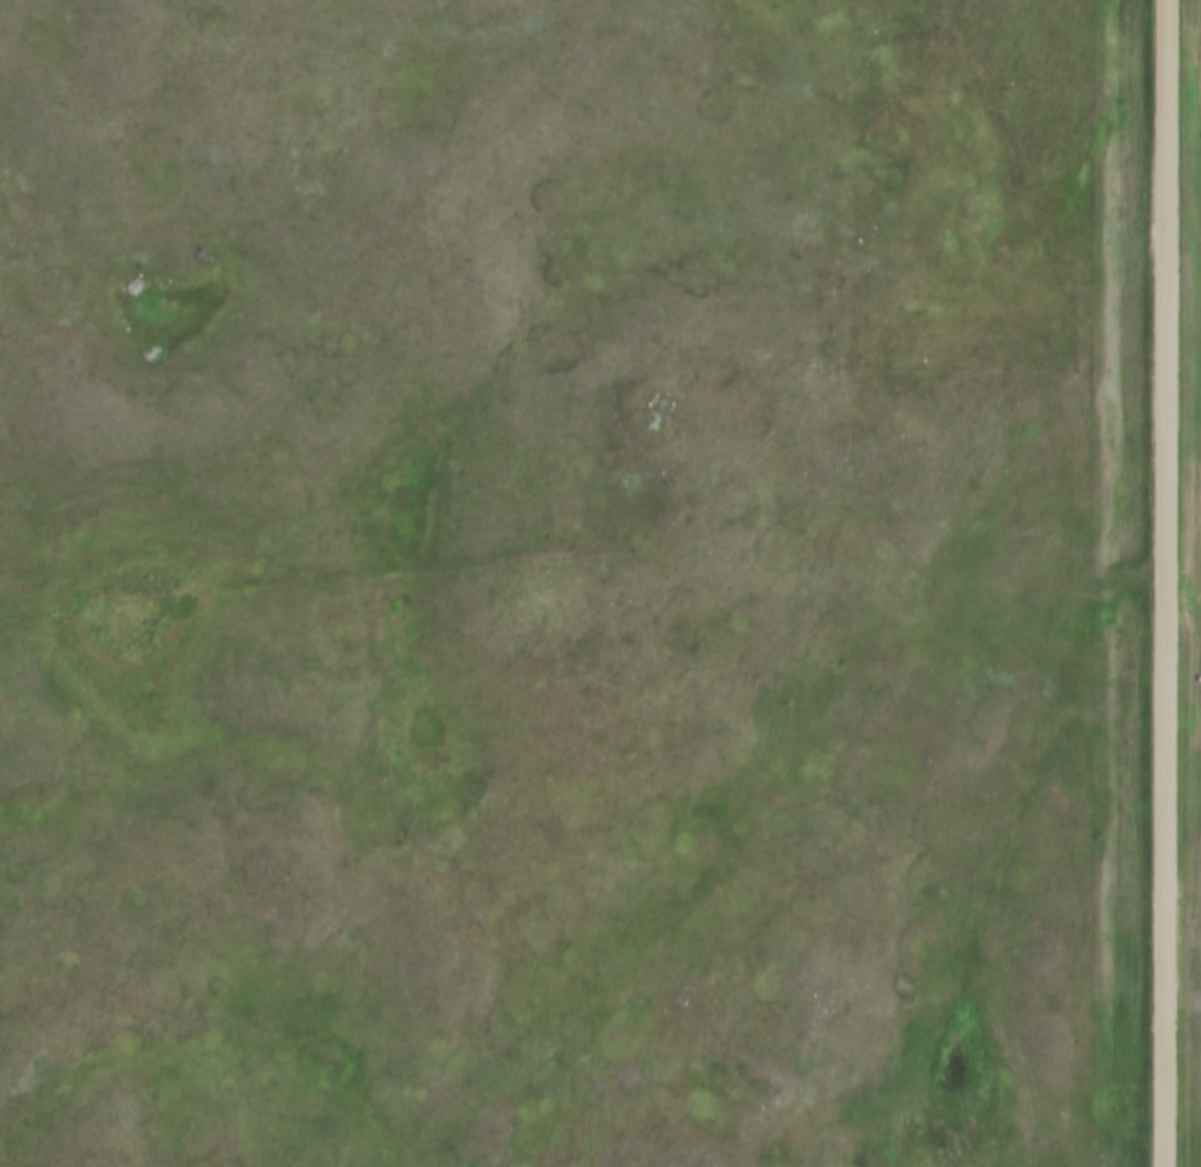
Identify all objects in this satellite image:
road: (1162, 583)

